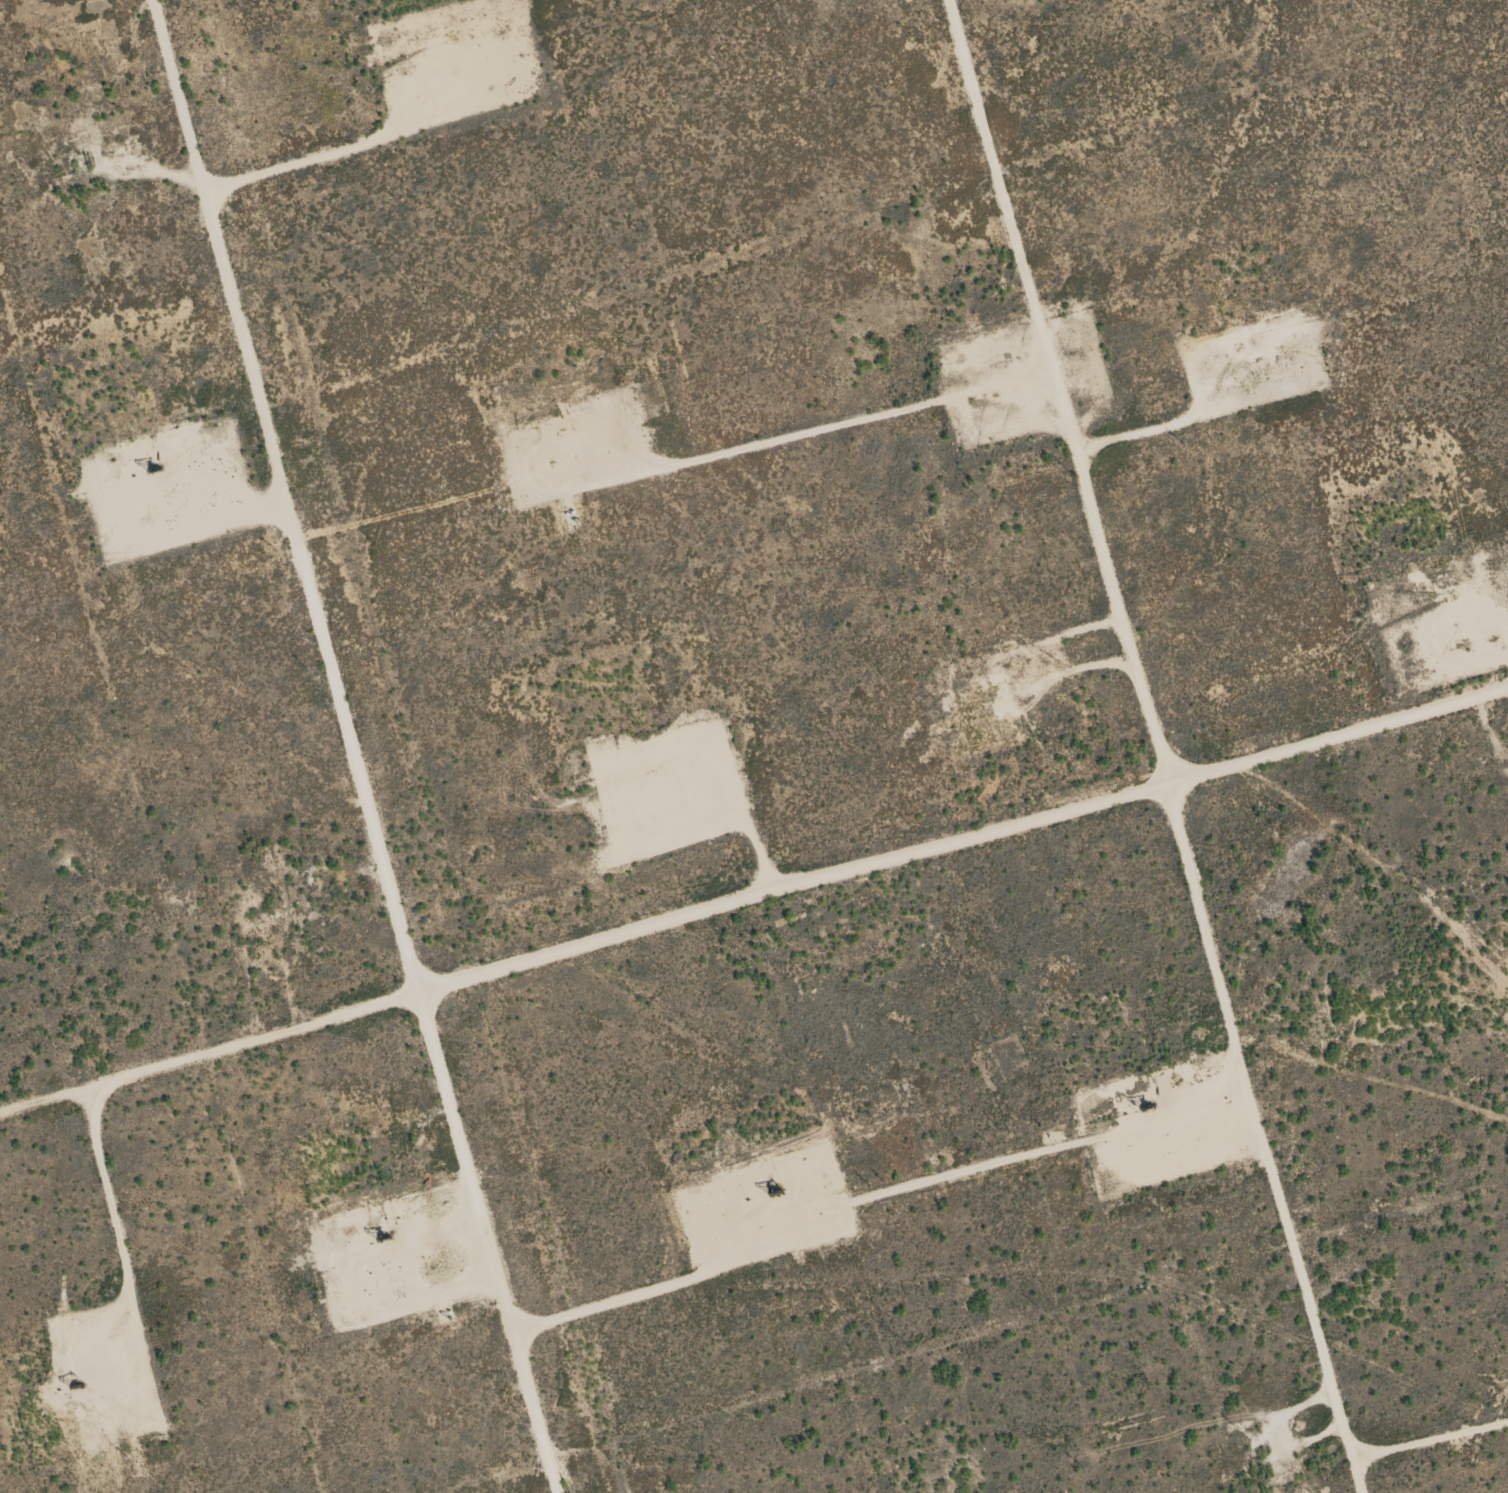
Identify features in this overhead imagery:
road: (1159, 745)
road: (353, 746)
road: (753, 894)

